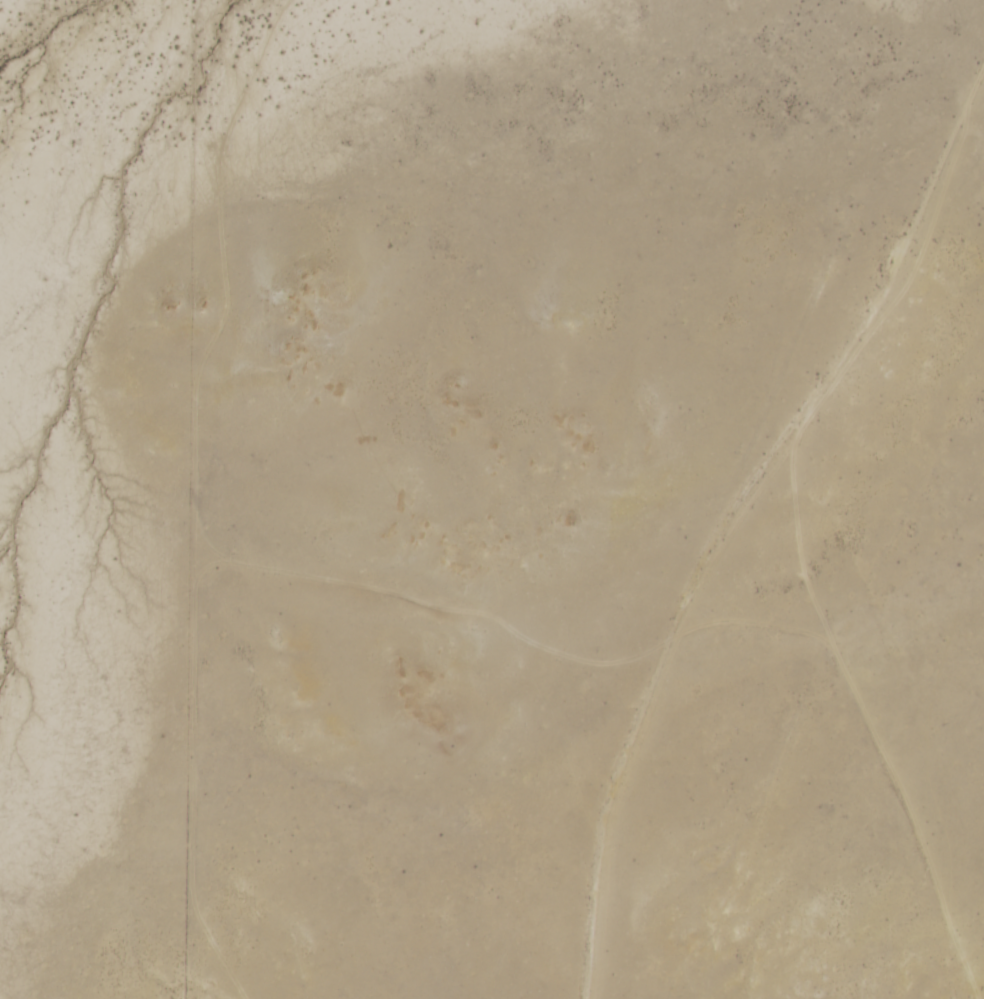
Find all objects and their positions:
river: (41, 27)
road: (730, 539)
road: (872, 729)

